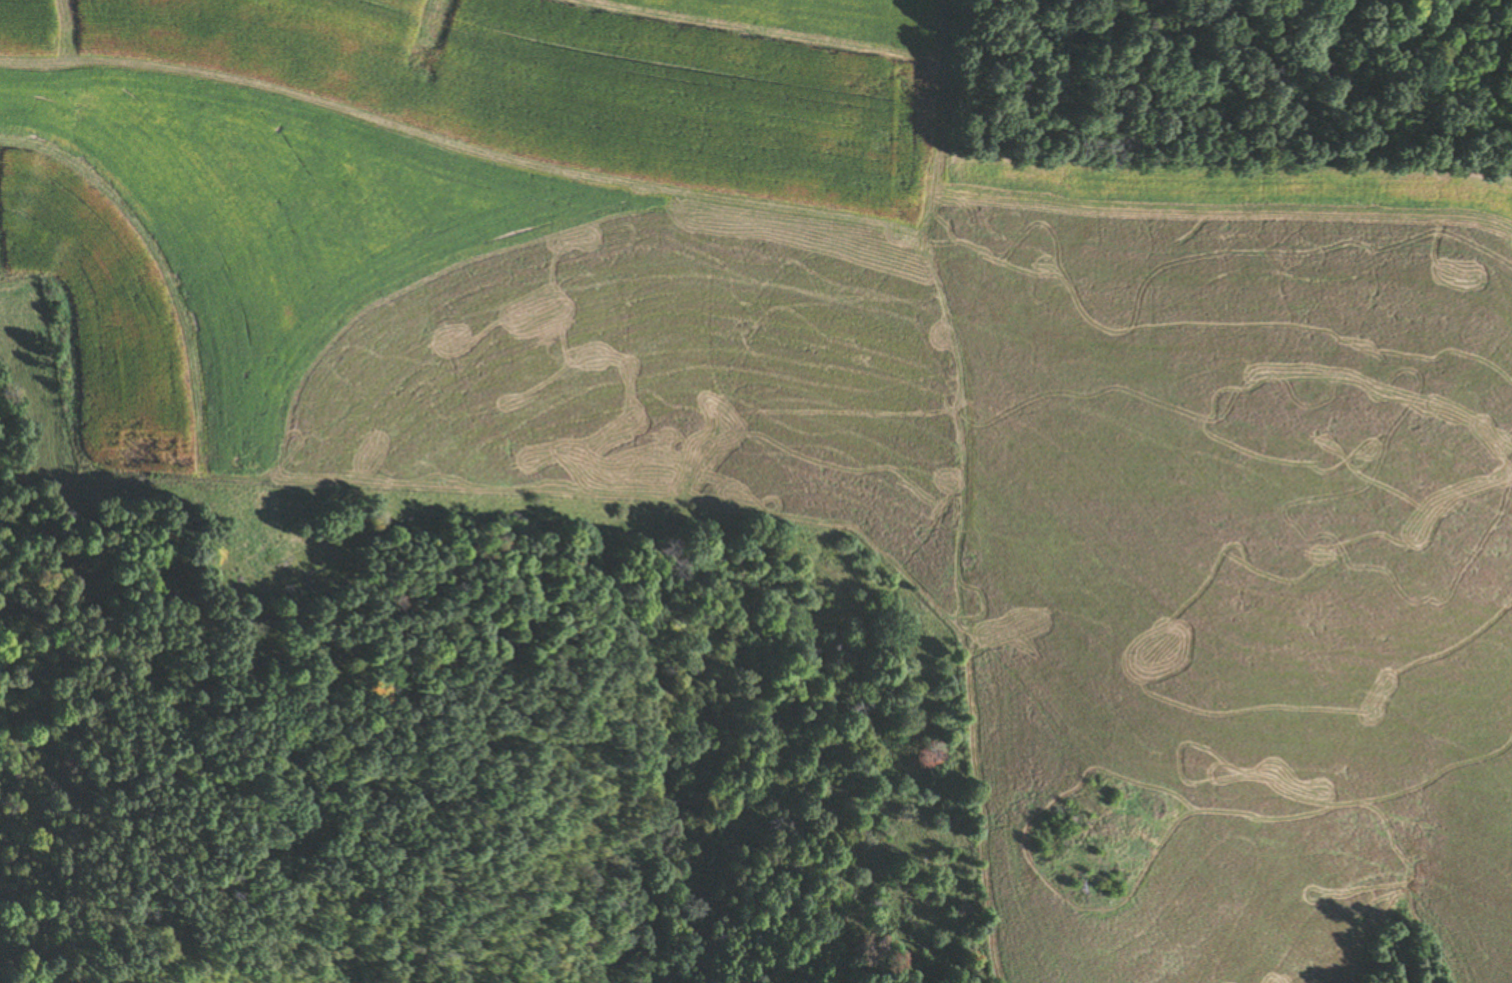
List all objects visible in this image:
crop: (28, 22)

